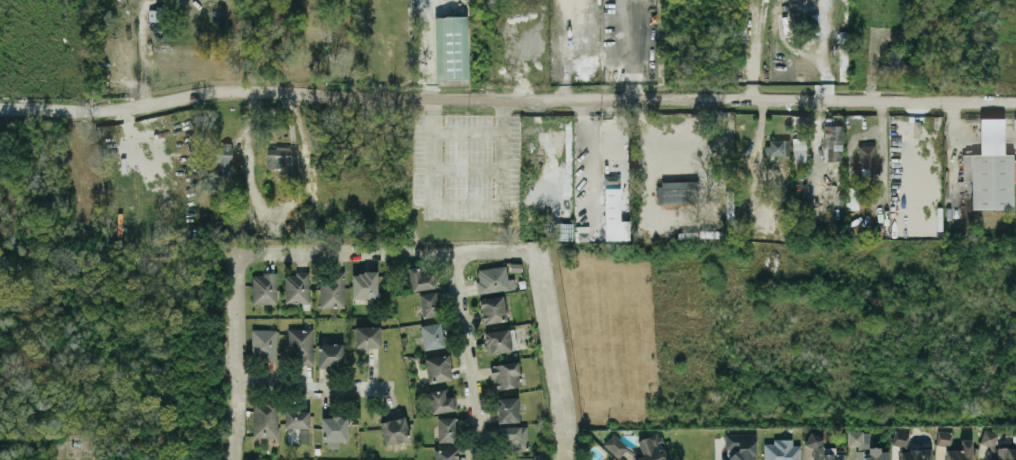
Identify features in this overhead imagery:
building: (155, 14)
building: (451, 47)
building: (893, 57)
road: (471, 97)
road: (980, 103)
road: (955, 114)
road: (985, 133)
building: (832, 142)
building: (775, 146)
building: (799, 149)
building: (866, 156)
building: (222, 158)
building: (282, 158)
road: (591, 158)
building: (989, 179)
building: (676, 191)
building: (613, 211)
building: (562, 230)
road: (384, 250)
building: (419, 279)
building: (493, 279)
building: (364, 284)
building: (296, 287)
building: (264, 288)
building: (331, 289)
building: (428, 303)
building: (492, 309)
building: (431, 335)
building: (367, 336)
building: (499, 340)
building: (263, 344)
building: (300, 345)
building: (330, 354)
road: (467, 354)
road: (551, 354)
road: (238, 359)
building: (438, 368)
building: (505, 374)
road: (312, 385)
building: (441, 401)
building: (507, 409)
building: (265, 418)
building: (296, 418)
building: (446, 429)
building: (334, 430)
building: (394, 430)
building: (303, 435)
building: (513, 437)
building: (944, 437)
building: (900, 438)
building: (615, 445)
building: (739, 446)
building: (865, 447)
building: (996, 447)
building: (651, 448)
building: (820, 448)
building: (781, 450)
building: (962, 451)
building: (445, 454)
building: (915, 454)
building: (517, 458)

